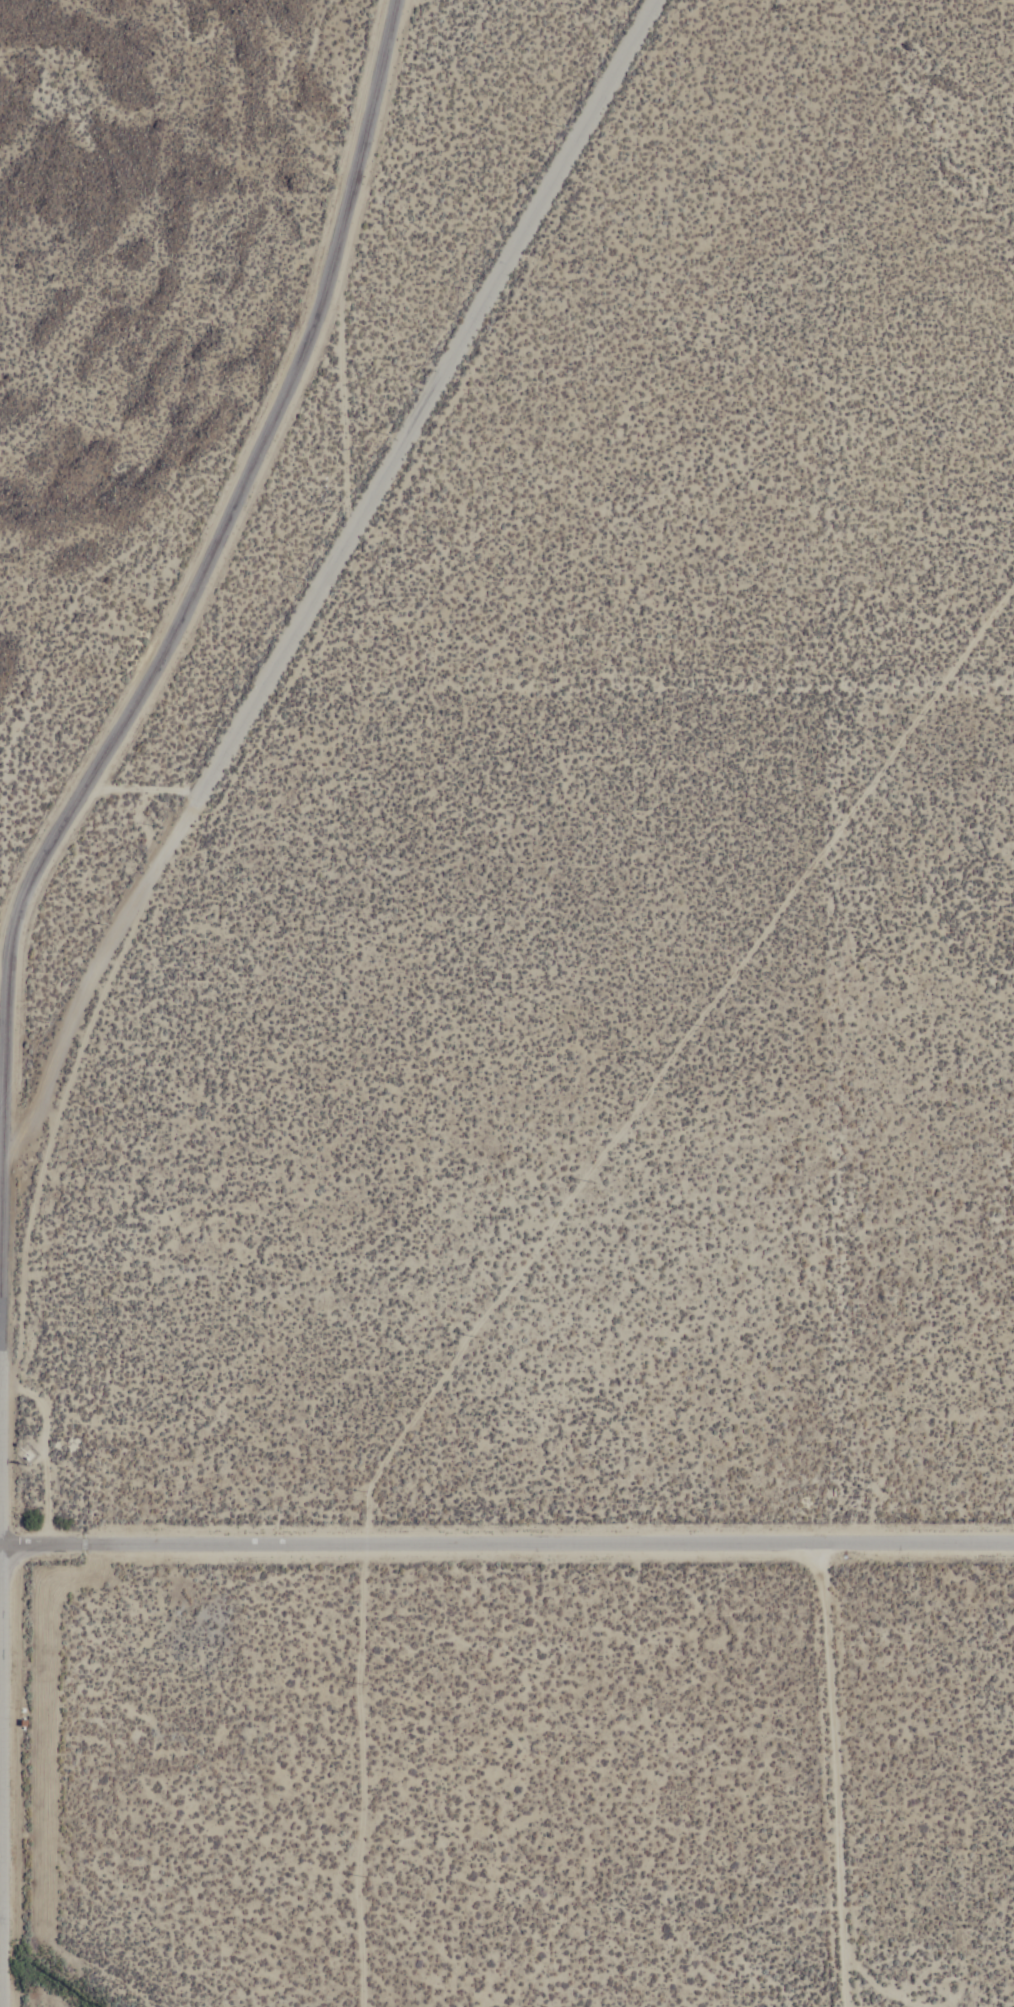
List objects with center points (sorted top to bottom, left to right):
road: (329, 579)
road: (205, 589)
road: (8, 977)
road: (540, 1252)
road: (4, 1357)
road: (508, 1548)
road: (1, 1549)
road: (1, 1665)
road: (2, 1707)
road: (836, 1776)
road: (1, 1863)
road: (1, 1935)
road: (1, 1972)

